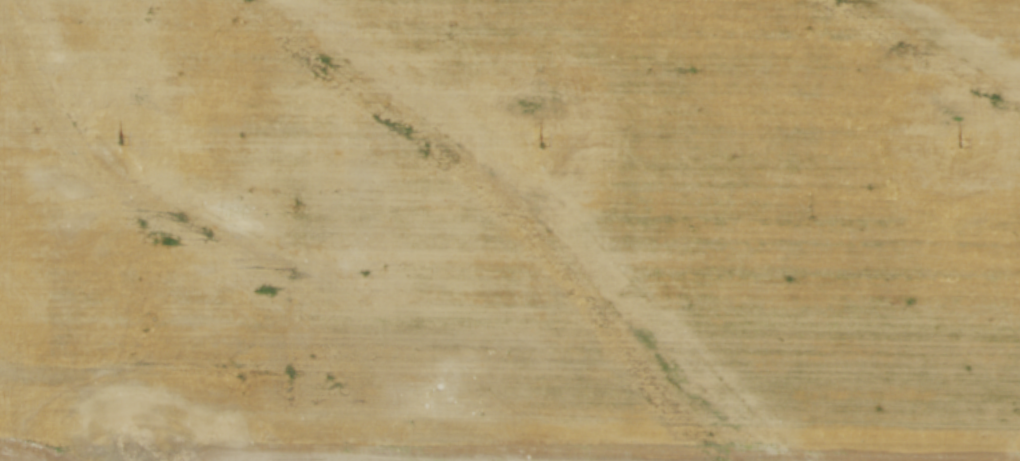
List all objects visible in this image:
power tower: (540, 141)
power tower: (122, 142)
power tower: (959, 143)
crop: (510, 230)

